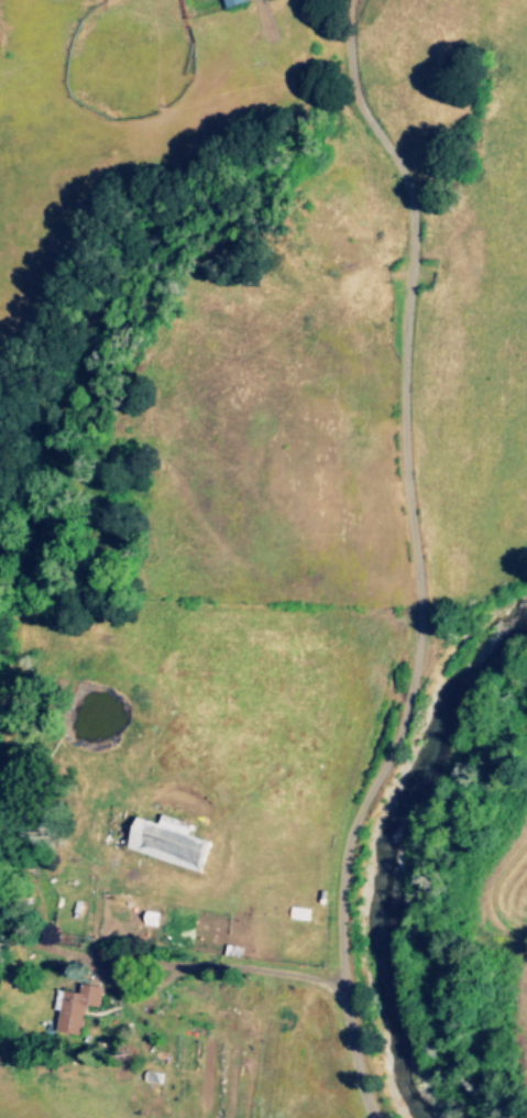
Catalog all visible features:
building: (238, 2)
road: (421, 559)
building: (8, 788)
road: (212, 964)
building: (79, 1009)

